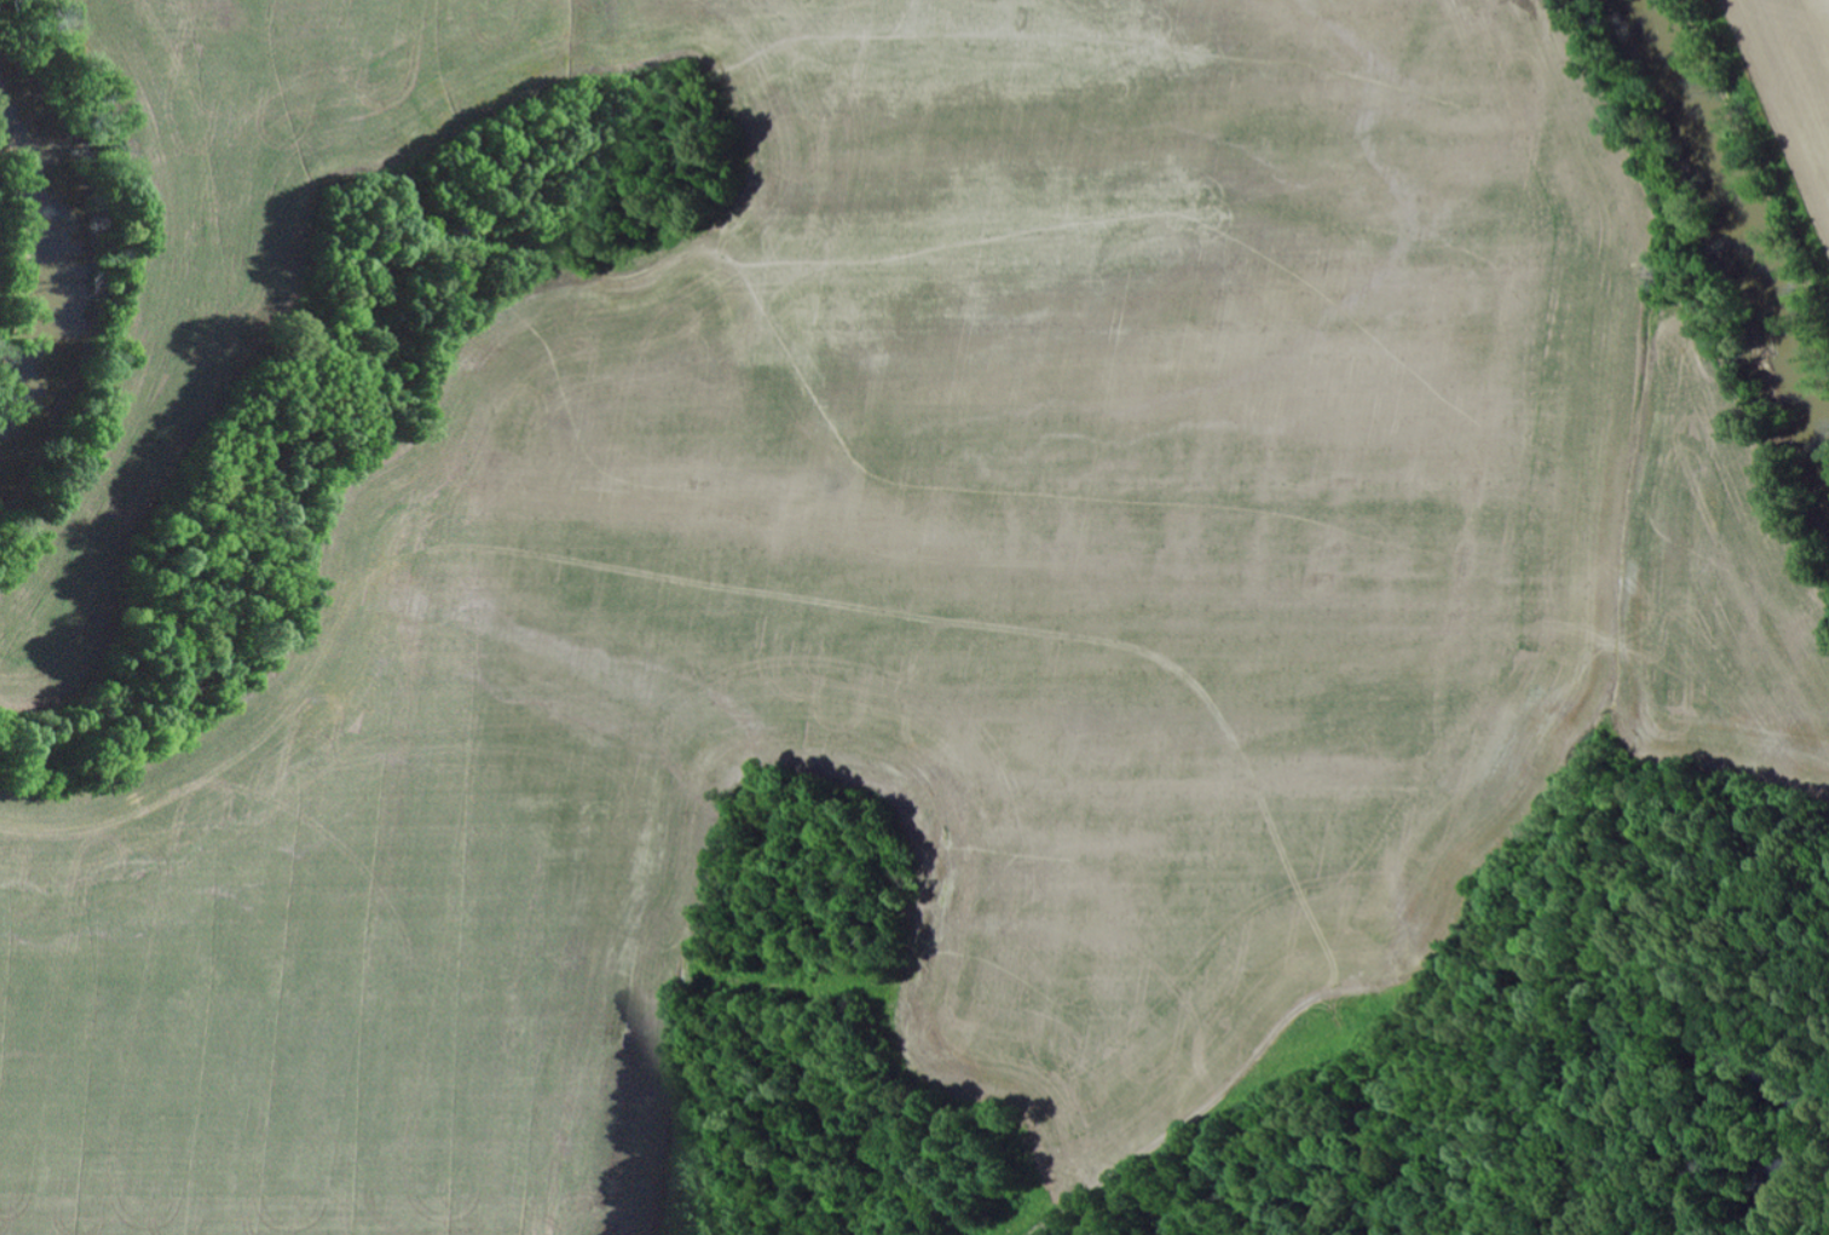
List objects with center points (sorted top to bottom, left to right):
river: (1748, 204)
river: (79, 271)
road: (1184, 1148)

